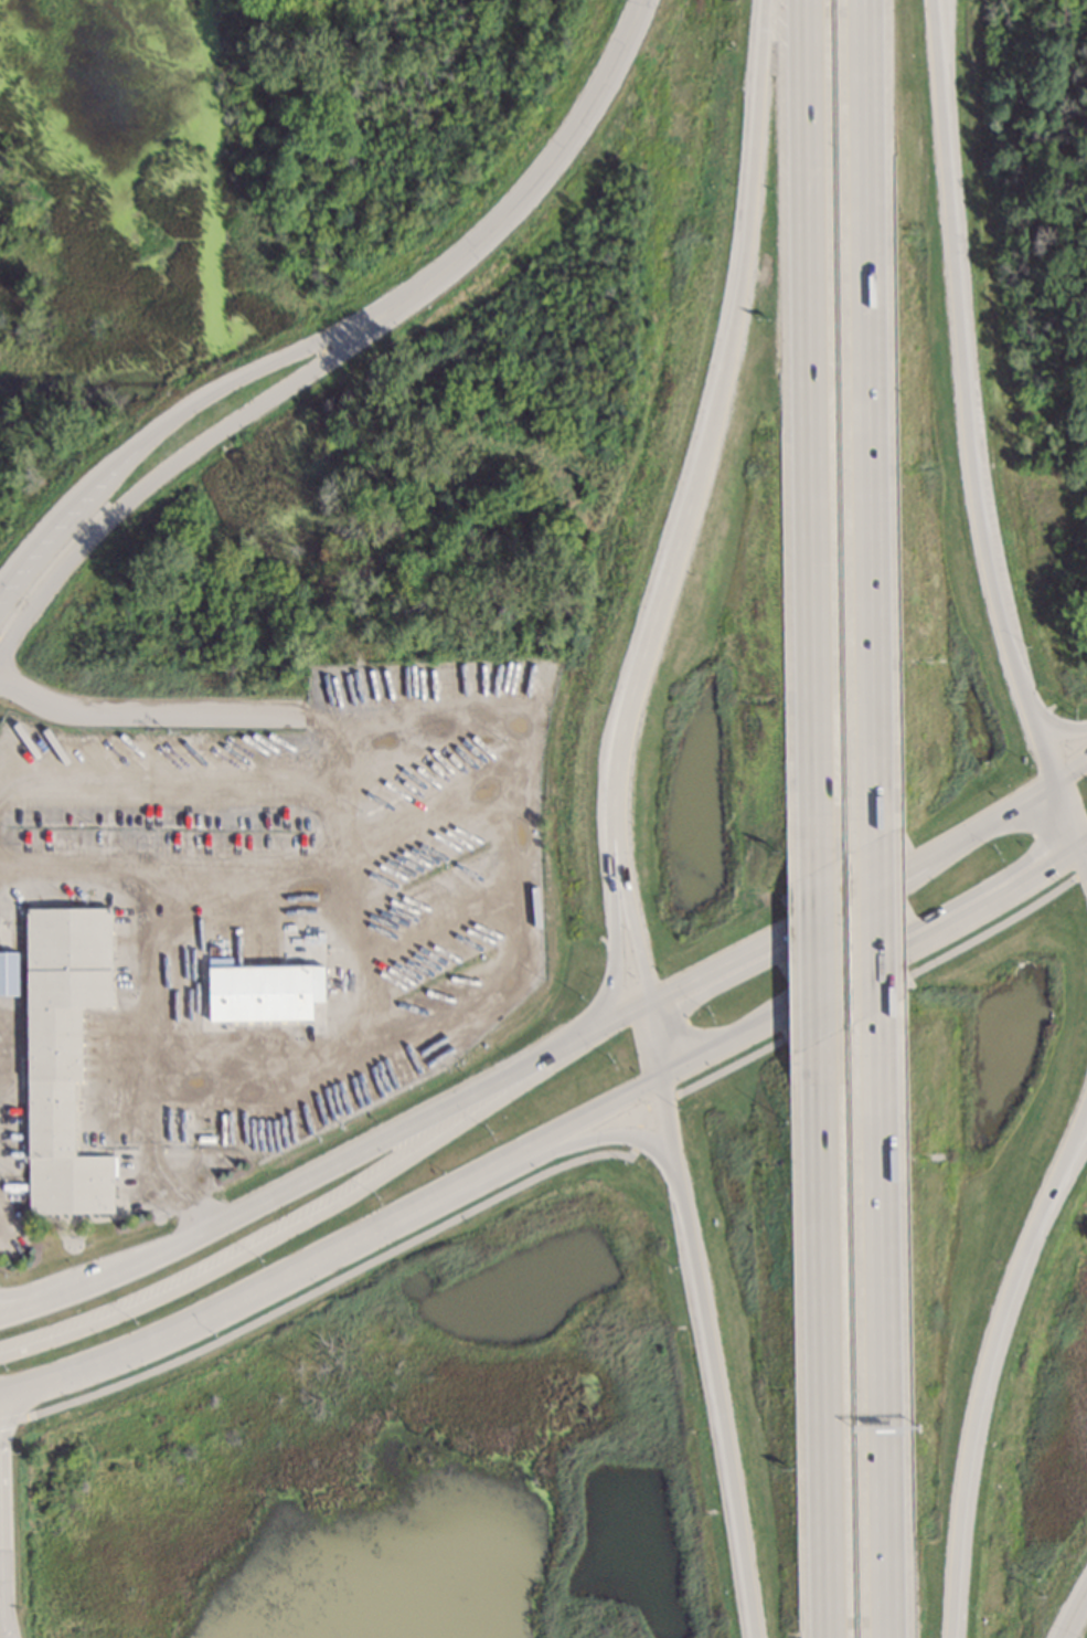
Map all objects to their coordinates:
road: (543, 183)
road: (965, 391)
road: (712, 418)
road: (867, 418)
road: (167, 422)
road: (809, 434)
road: (171, 468)
road: (134, 709)
road: (1063, 729)
road: (1070, 762)
road: (1067, 813)
road: (1084, 849)
road: (1084, 862)
road: (128, 870)
road: (852, 891)
road: (629, 915)
road: (873, 928)
road: (621, 936)
road: (812, 955)
building: (6, 971)
road: (872, 971)
building: (262, 990)
road: (652, 1043)
building: (63, 1054)
road: (146, 1060)
road: (611, 1134)
road: (565, 1165)
road: (328, 1171)
road: (298, 1229)
road: (337, 1255)
road: (18, 1303)
road: (880, 1329)
road: (817, 1340)
road: (710, 1360)
road: (988, 1365)
road: (1, 1402)
road: (3, 1561)
road: (3, 1617)
road: (1078, 1620)

